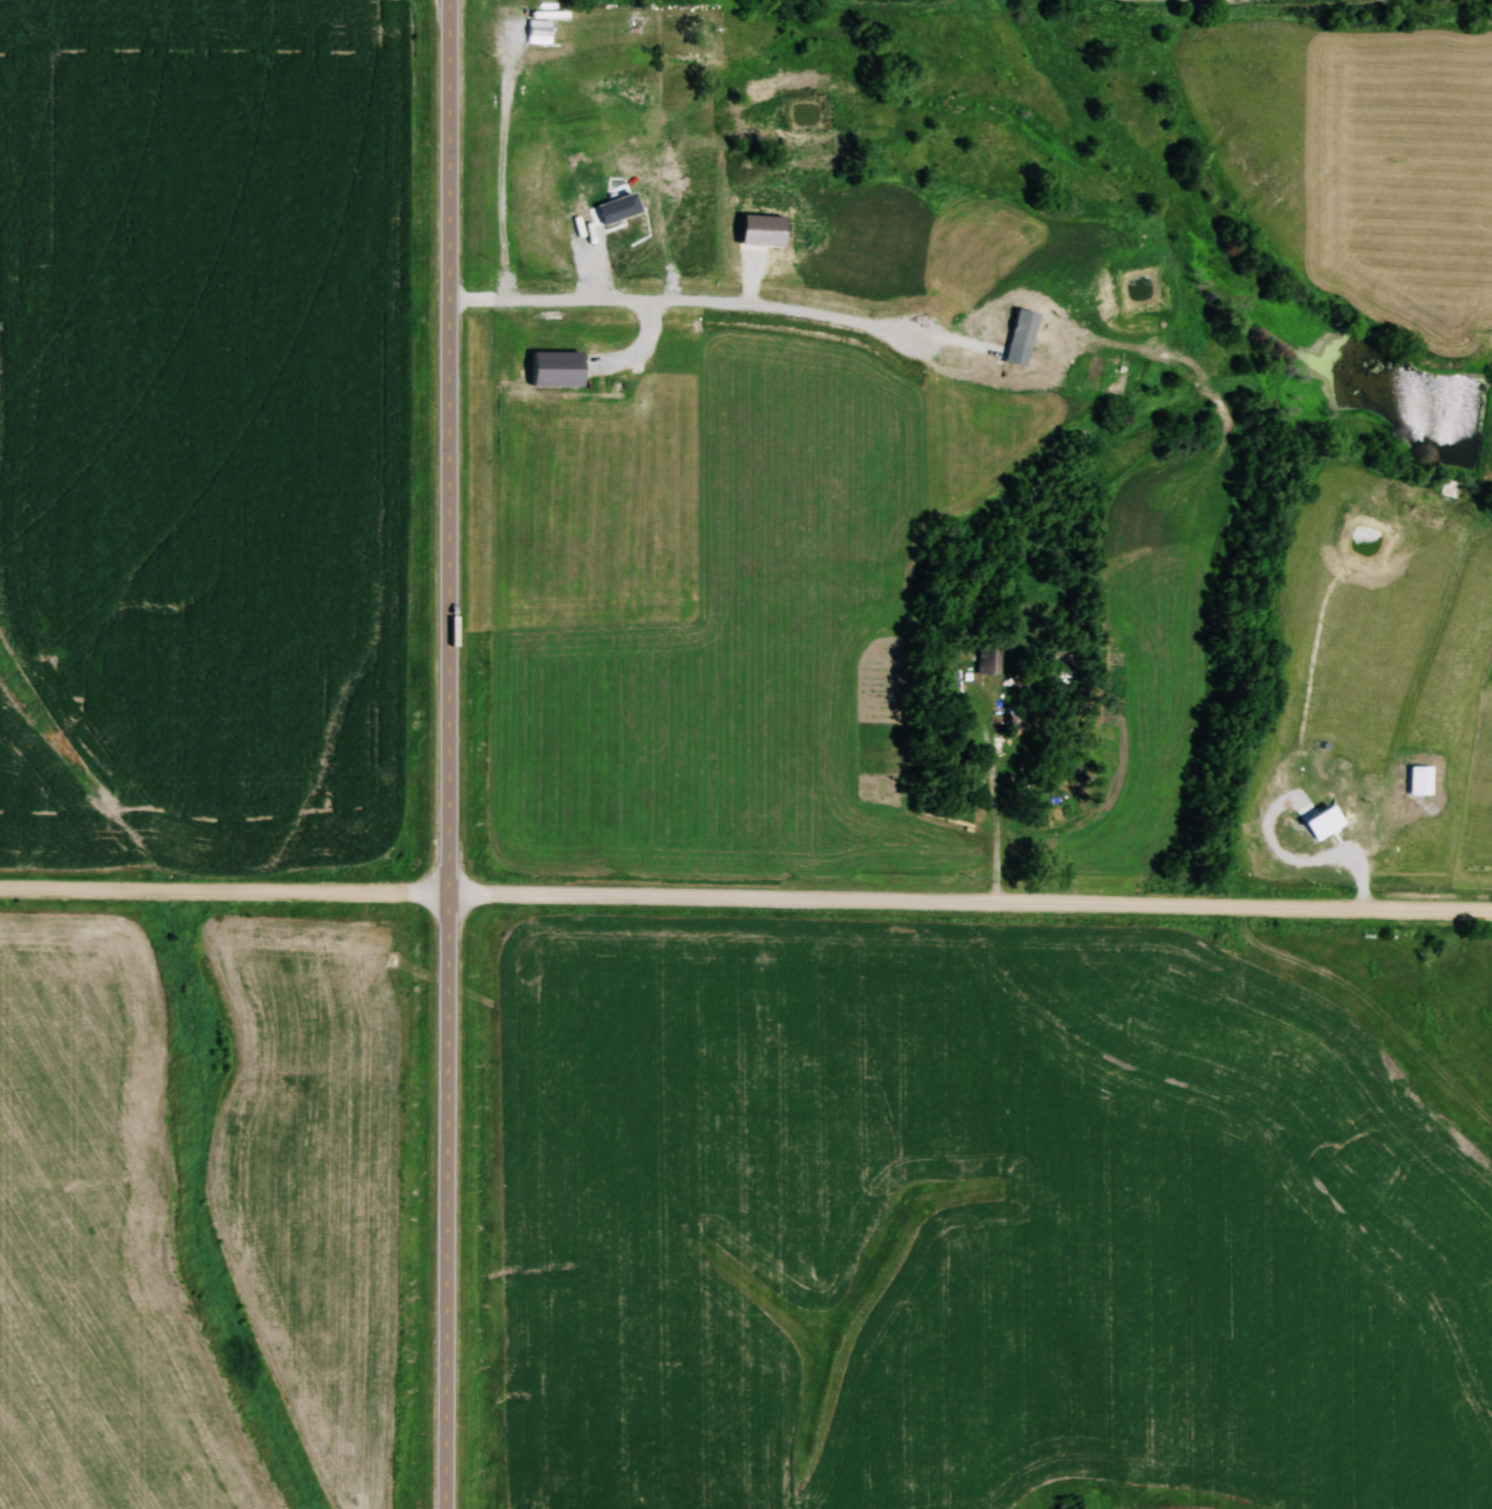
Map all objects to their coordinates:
building: (987, 656)
building: (1016, 716)
road: (450, 754)
building: (1027, 819)
road: (225, 891)
road: (970, 903)

